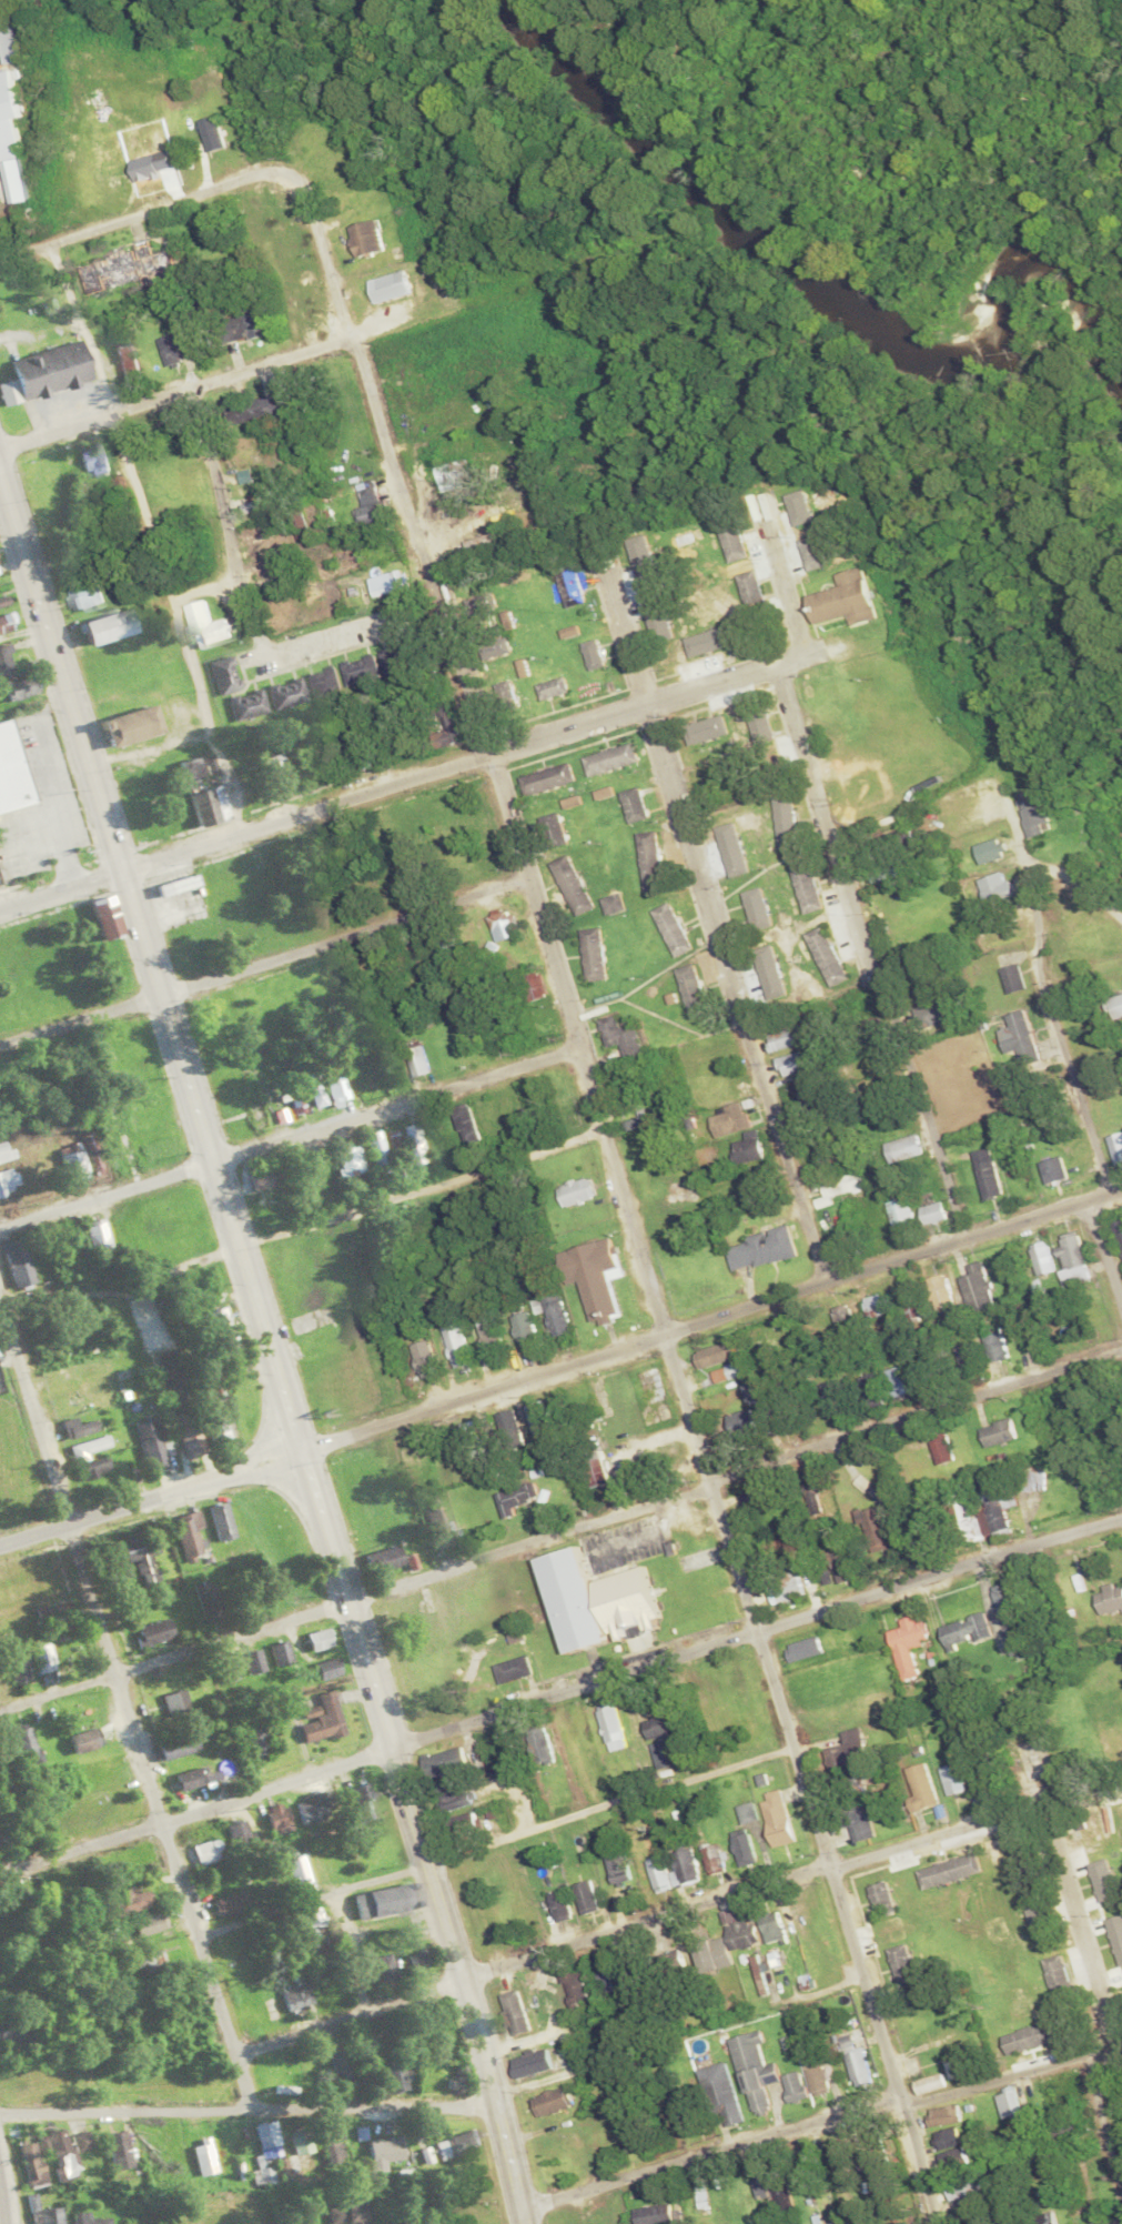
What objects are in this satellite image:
road: (141, 209)
road: (80, 323)
road: (204, 380)
road: (224, 506)
road: (786, 582)
road: (420, 776)
road: (1078, 877)
road: (718, 925)
road: (867, 953)
road: (264, 962)
road: (1045, 997)
road: (290, 1134)
road: (625, 1188)
road: (324, 1219)
road: (1105, 1250)
road: (270, 1349)
road: (559, 1361)
road: (562, 1530)
road: (560, 1689)
road: (122, 1709)
road: (494, 1838)
road: (675, 1910)
road: (1078, 1921)
road: (1013, 2070)
road: (249, 2101)
road: (1103, 2113)
road: (711, 2147)
road: (1, 2206)

